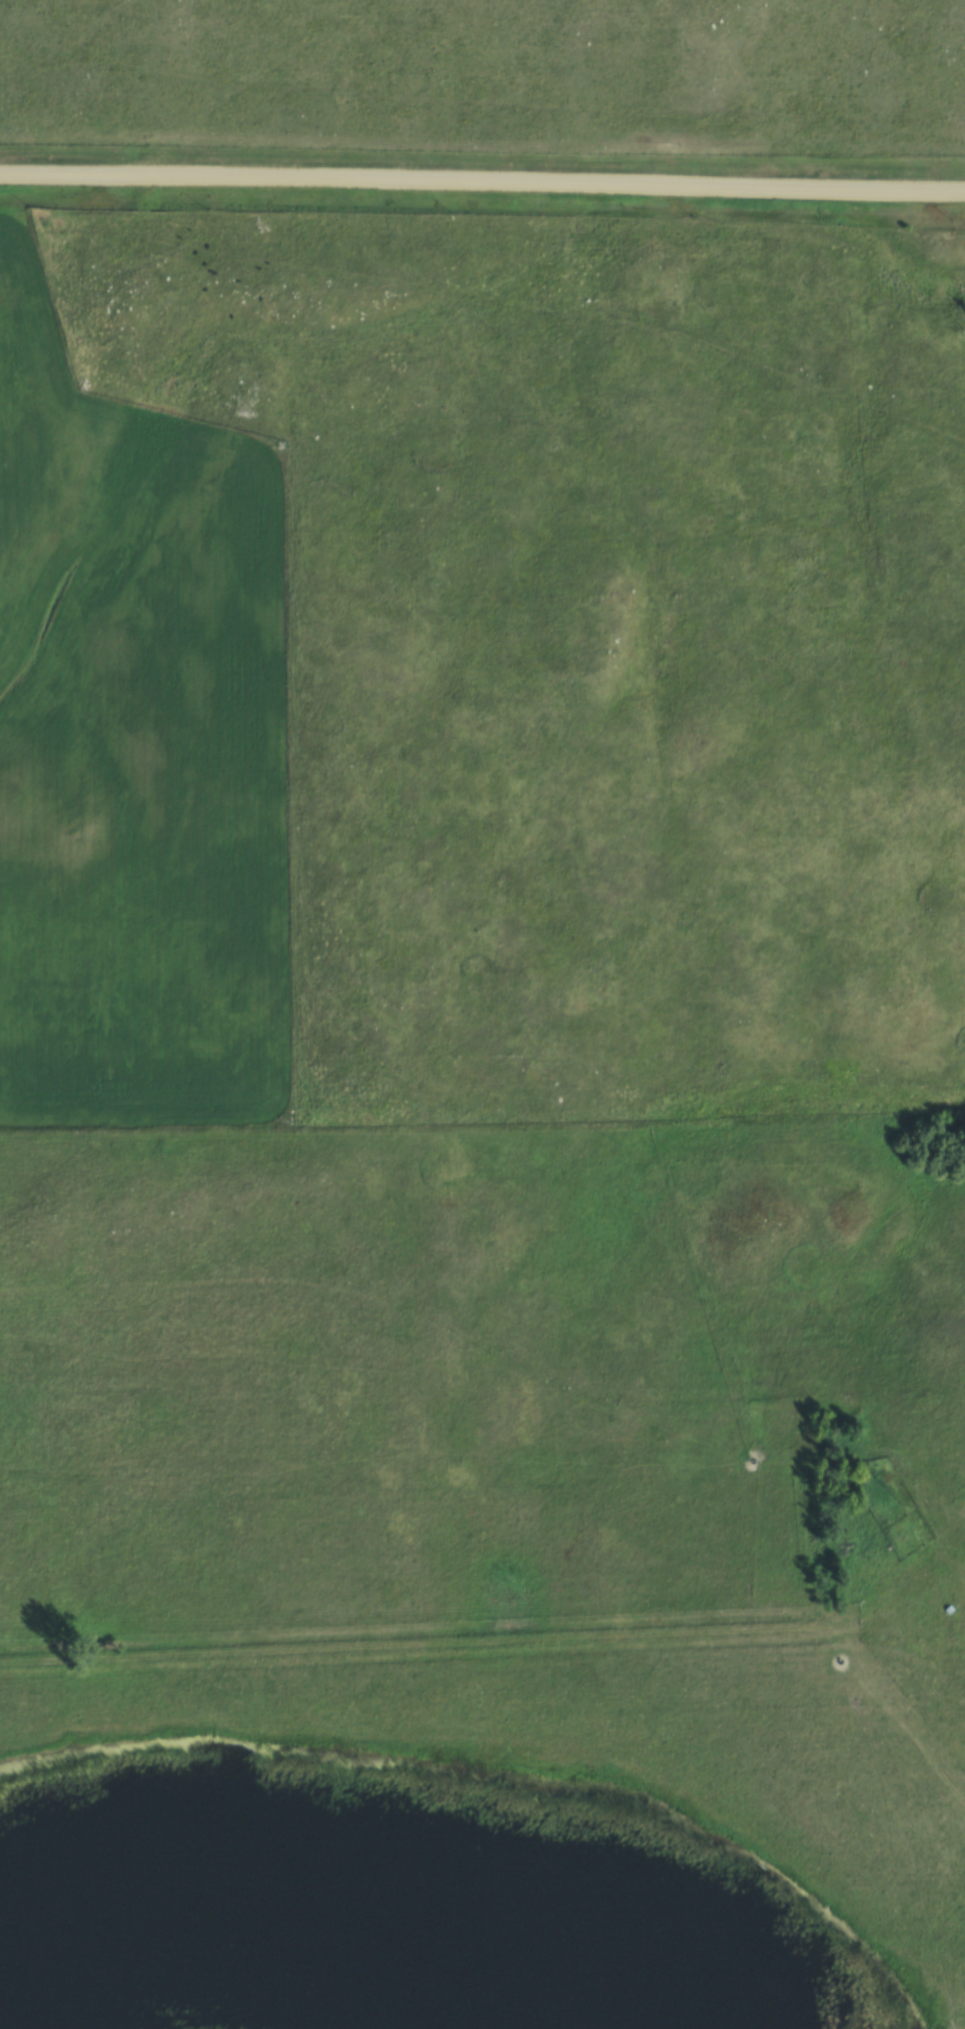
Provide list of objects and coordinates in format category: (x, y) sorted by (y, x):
road: (482, 187)

